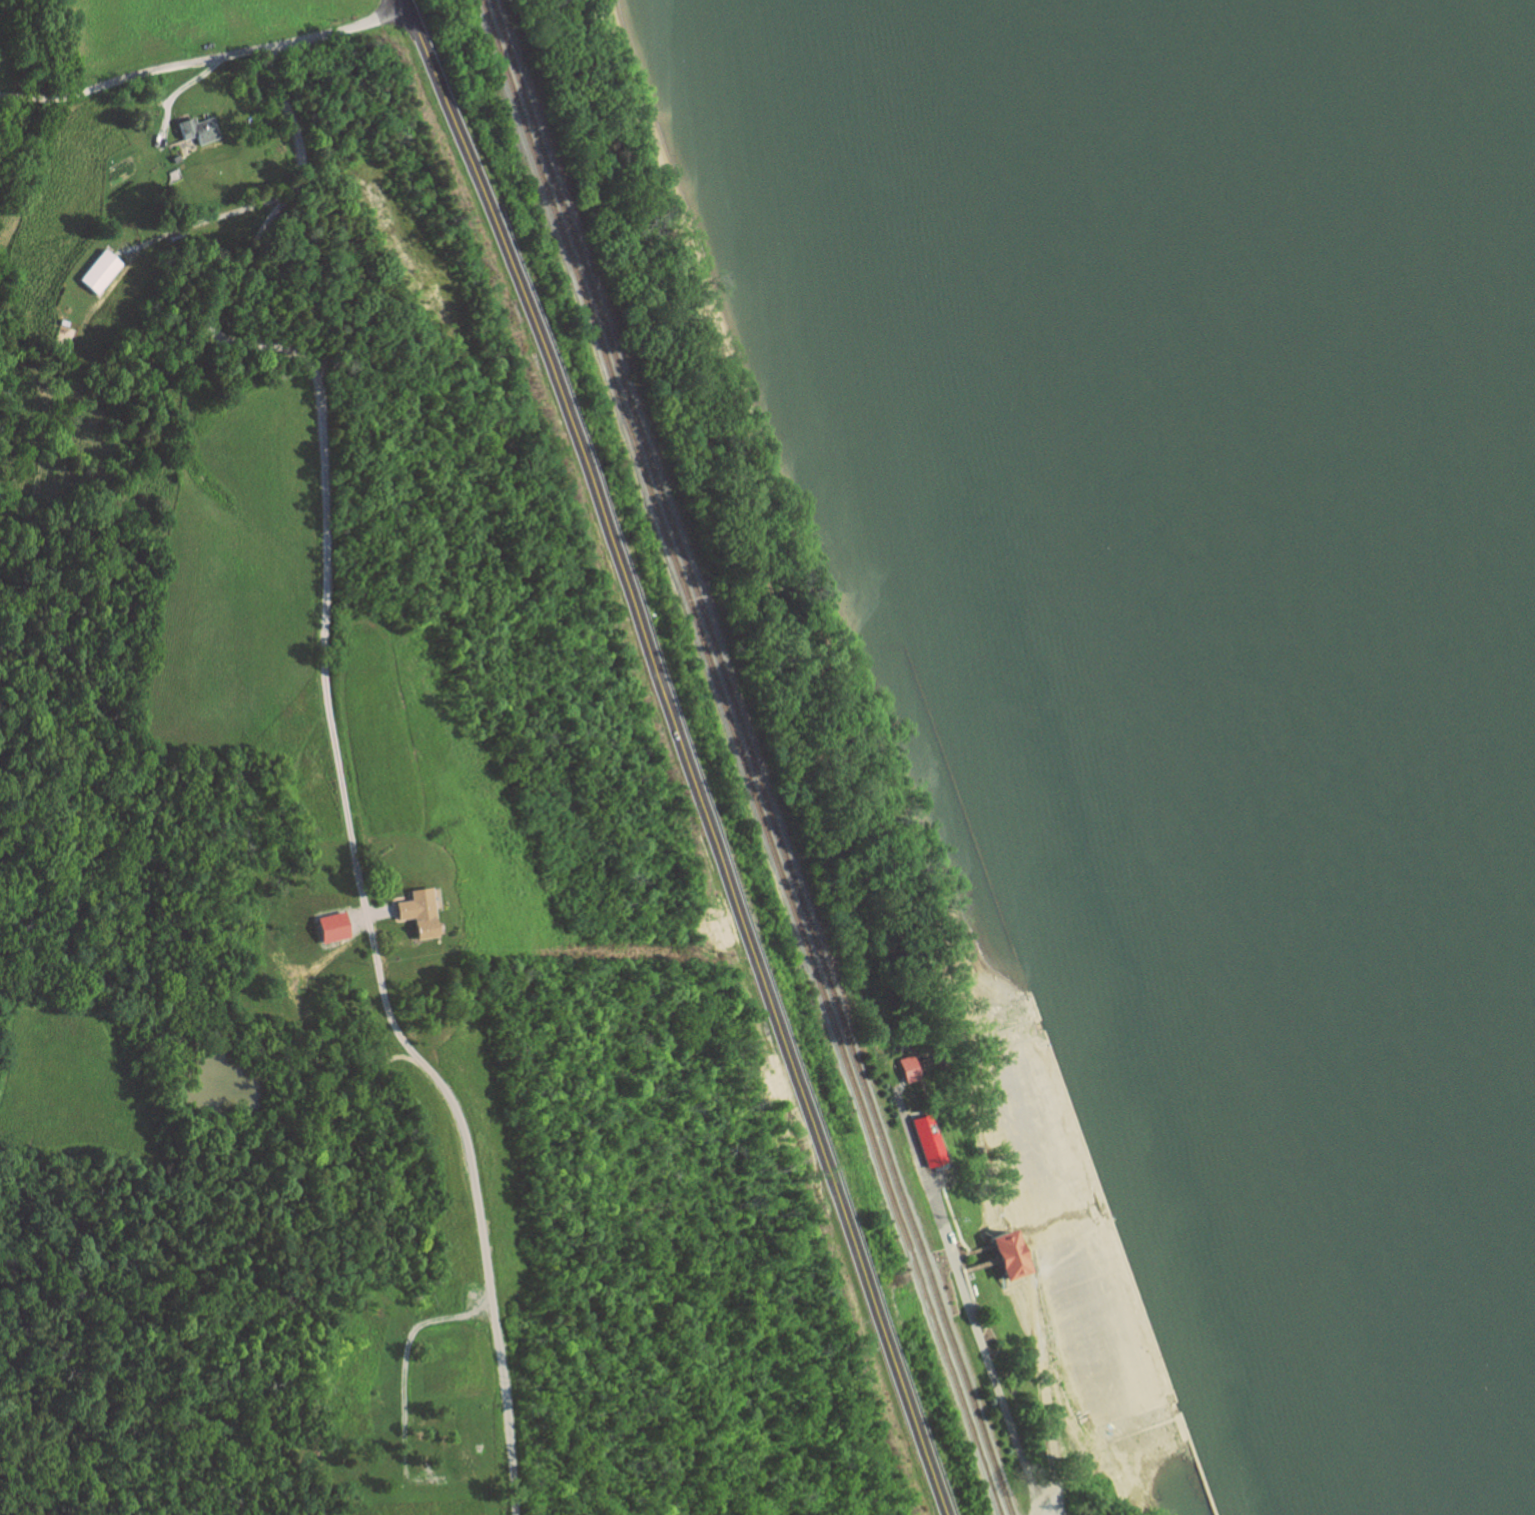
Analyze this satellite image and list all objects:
road: (204, 61)
river: (1325, 535)
road: (334, 742)
road: (681, 753)
railway: (739, 758)
railway: (748, 758)
building: (905, 1070)
building: (929, 1141)
road: (973, 1252)
road: (958, 1257)
building: (996, 1258)
road: (970, 1268)
road: (962, 1295)
road: (1039, 1355)
road: (1090, 1429)
road: (1046, 1491)

